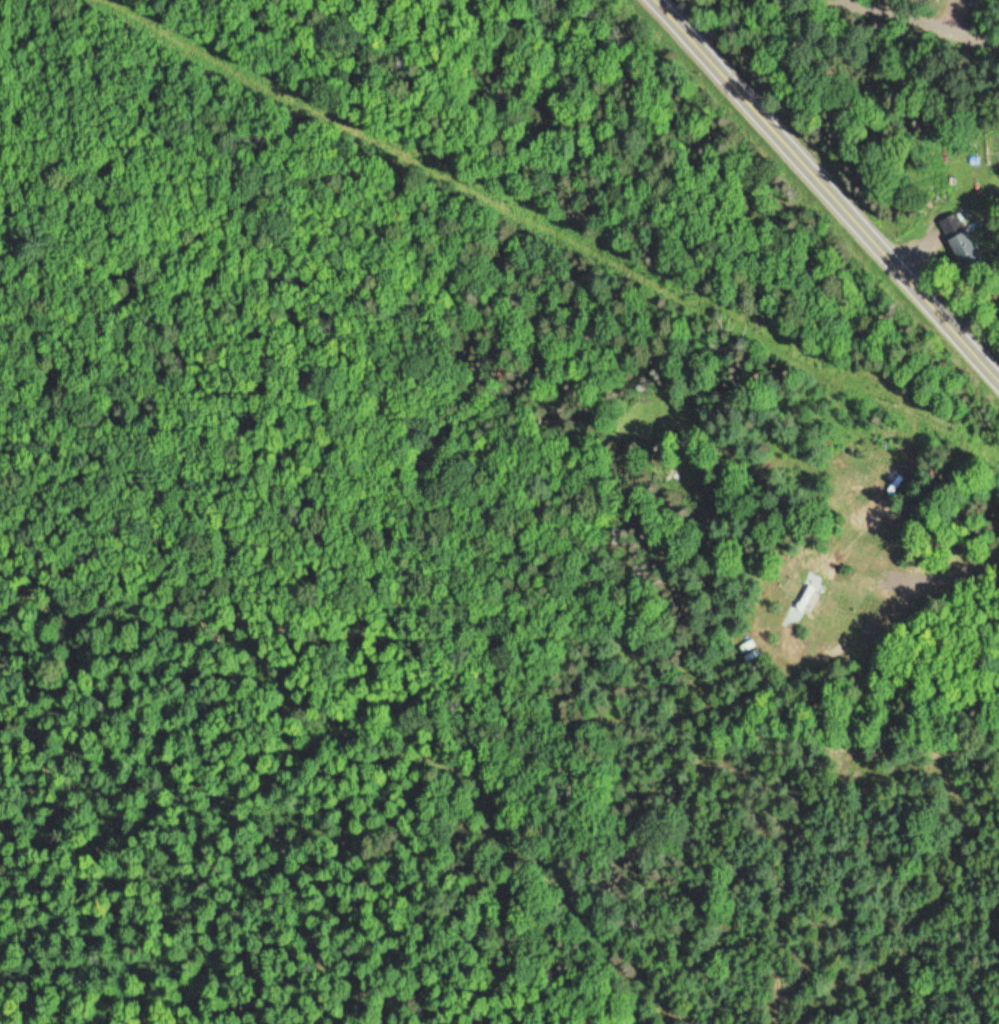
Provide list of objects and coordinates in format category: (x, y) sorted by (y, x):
road: (931, 23)
road: (825, 188)
building: (961, 240)

